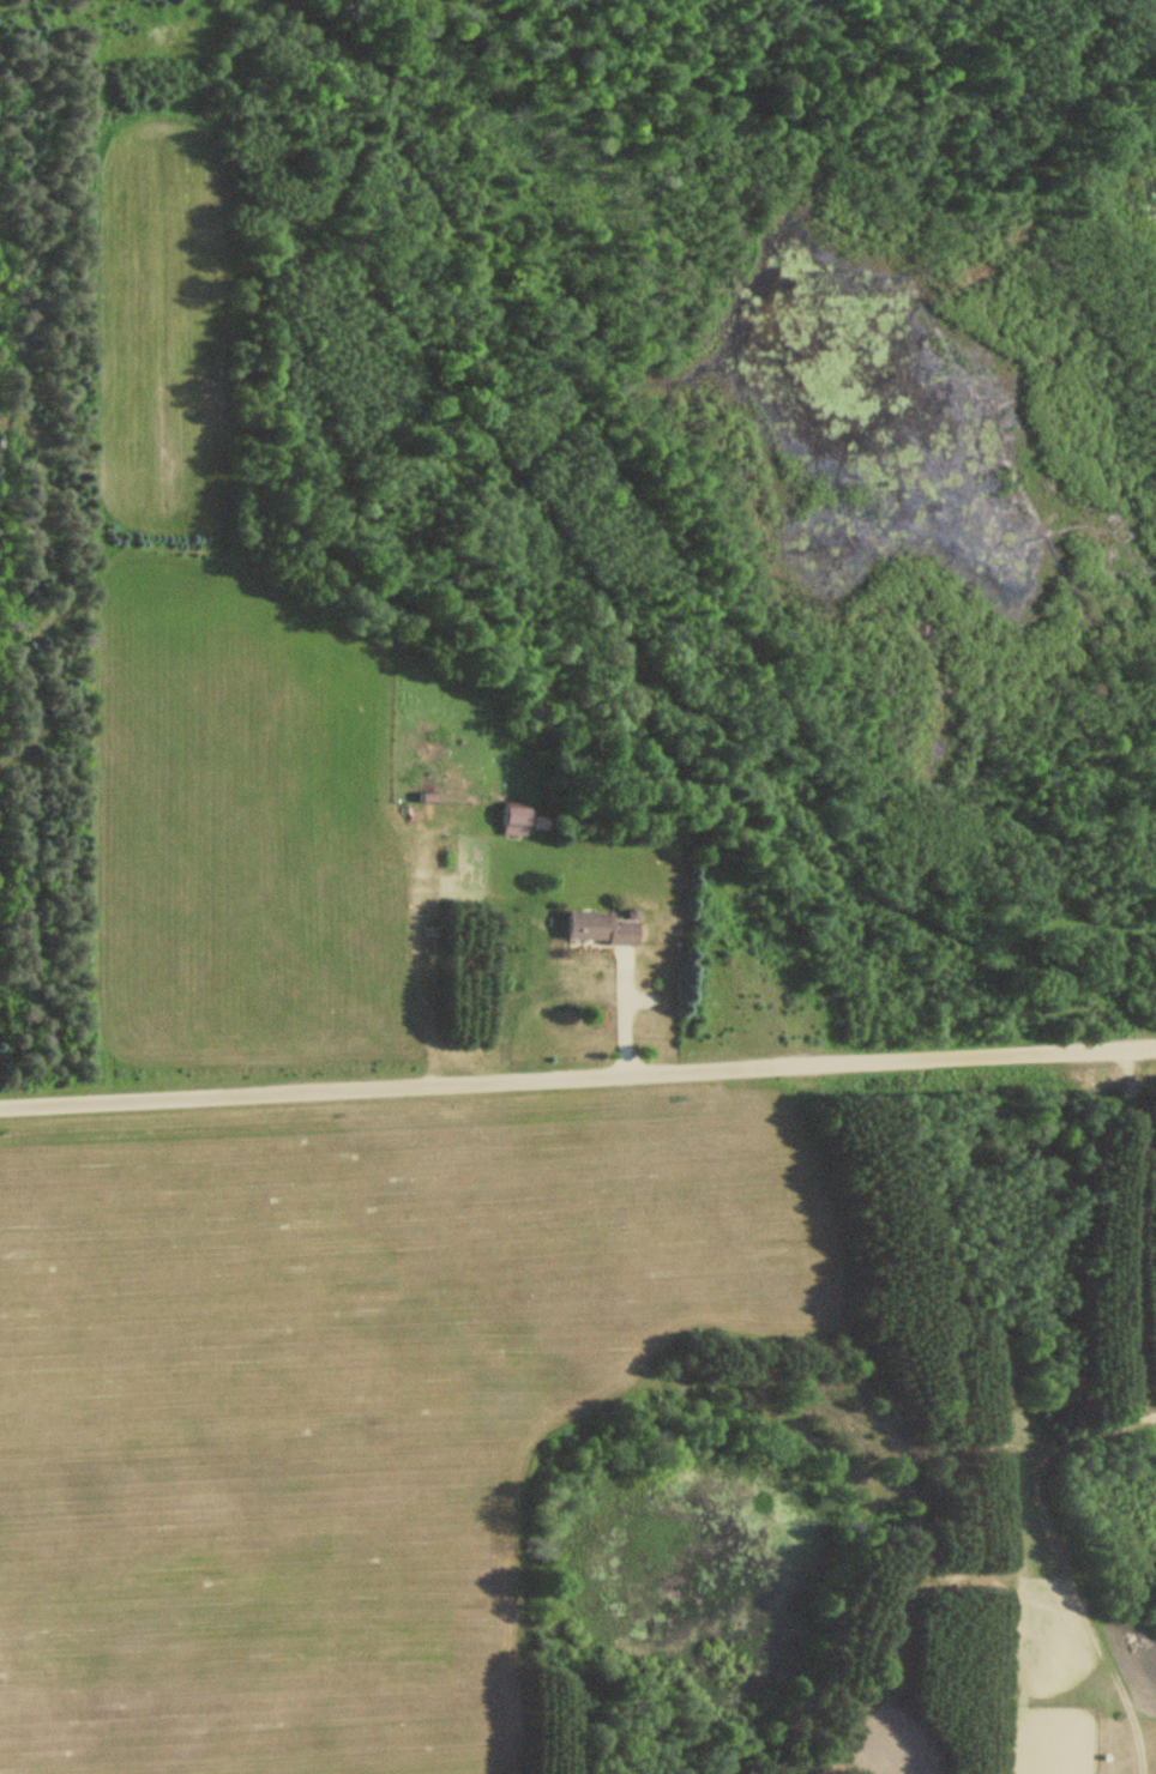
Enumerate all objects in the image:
river: (779, 318)
building: (512, 822)
building: (595, 929)
road: (578, 1073)

